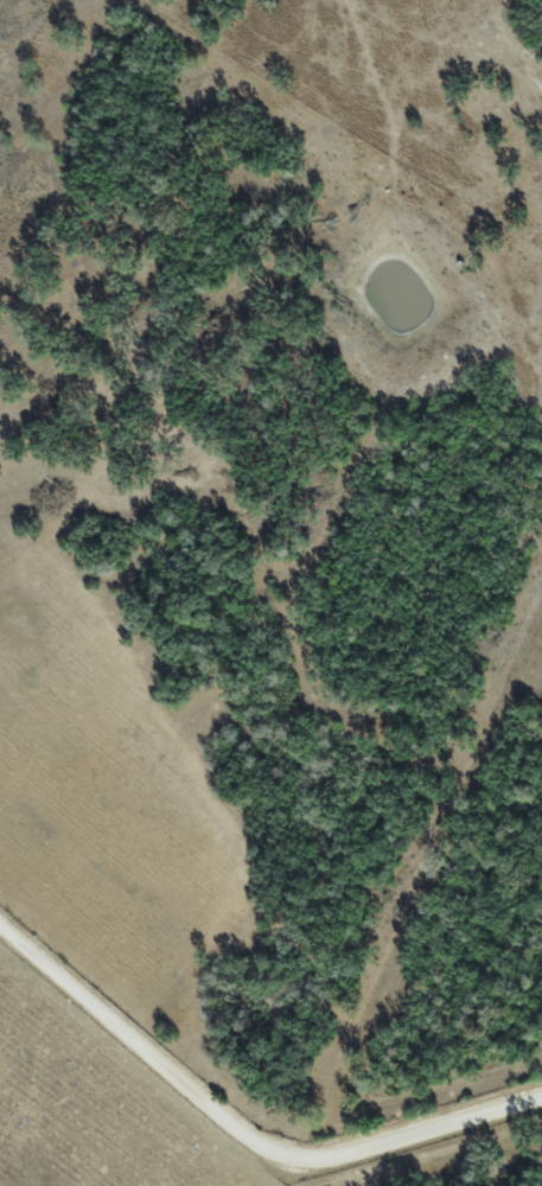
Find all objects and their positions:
road: (240, 1123)
road: (319, 1169)

